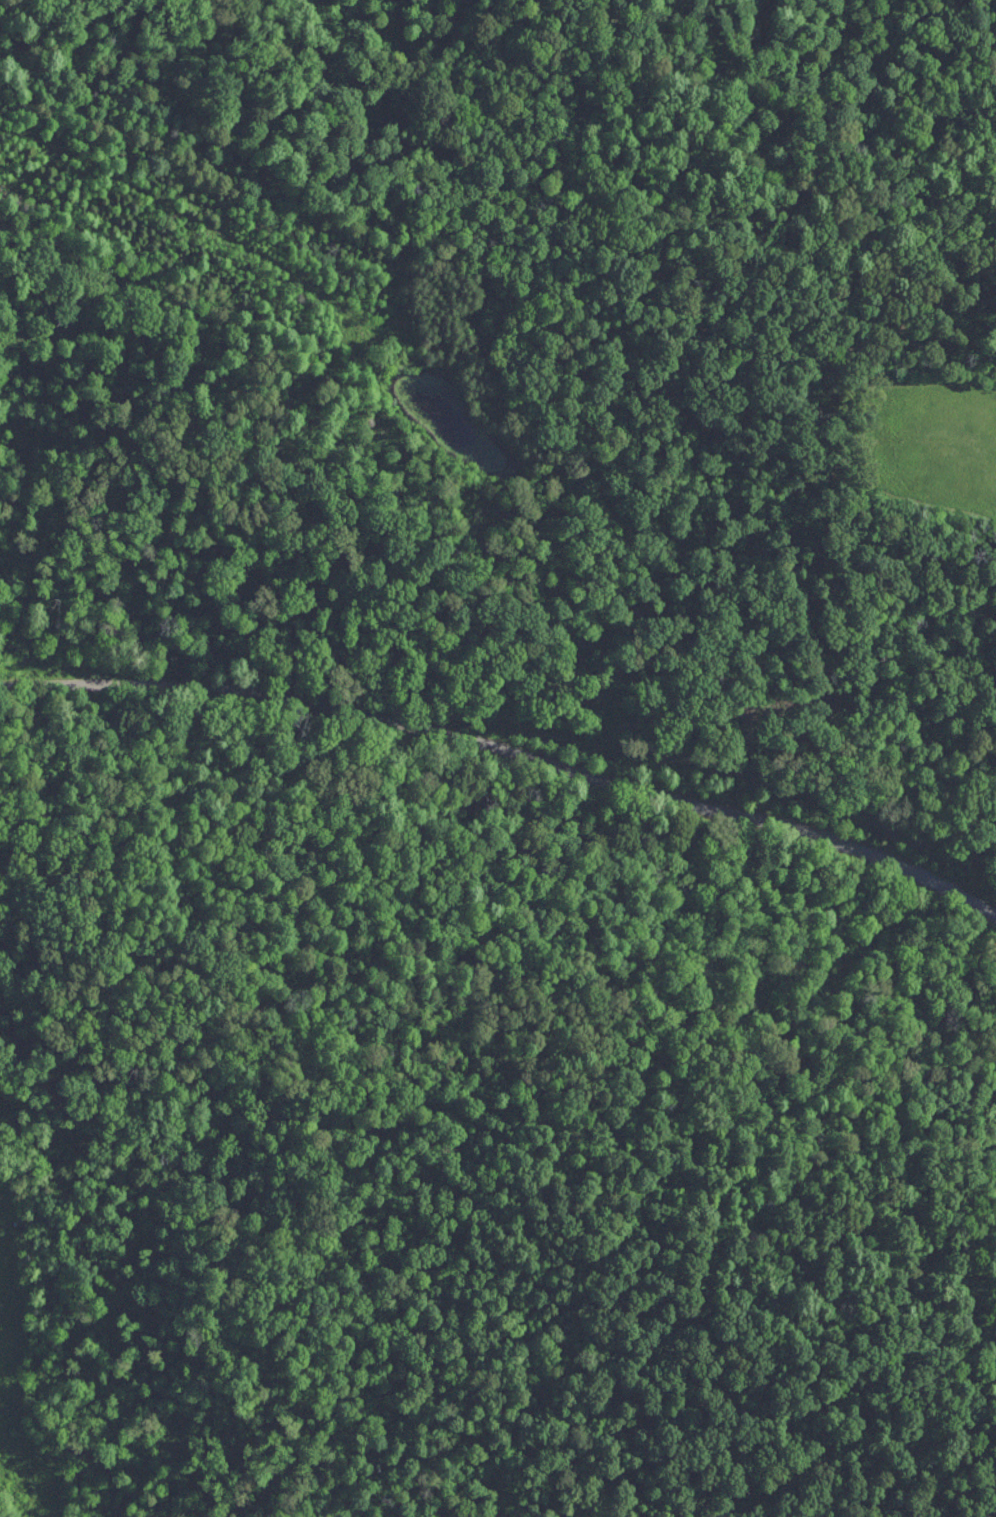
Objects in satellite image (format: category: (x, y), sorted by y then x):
road: (508, 750)

